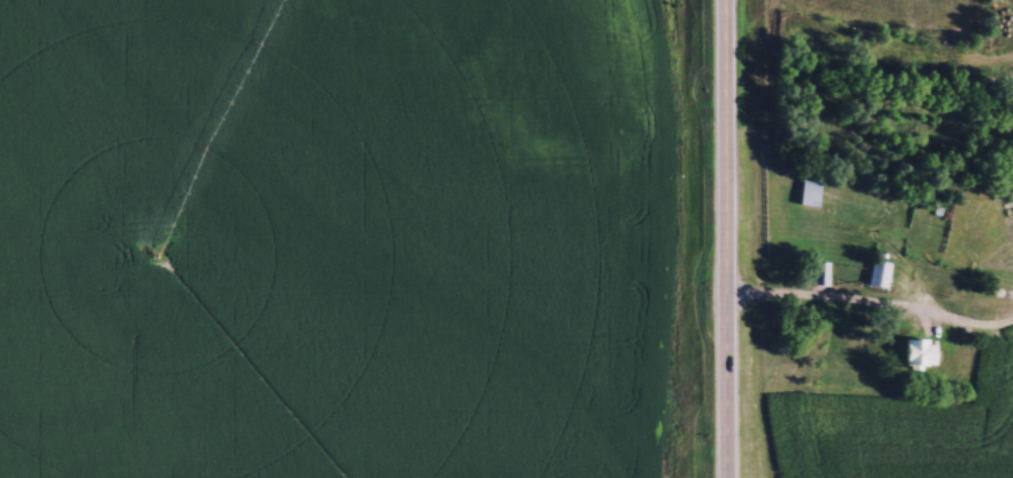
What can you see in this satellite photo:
building: (1011, 185)
building: (808, 186)
road: (725, 239)
building: (814, 272)
building: (876, 272)
road: (824, 299)
building: (918, 352)

